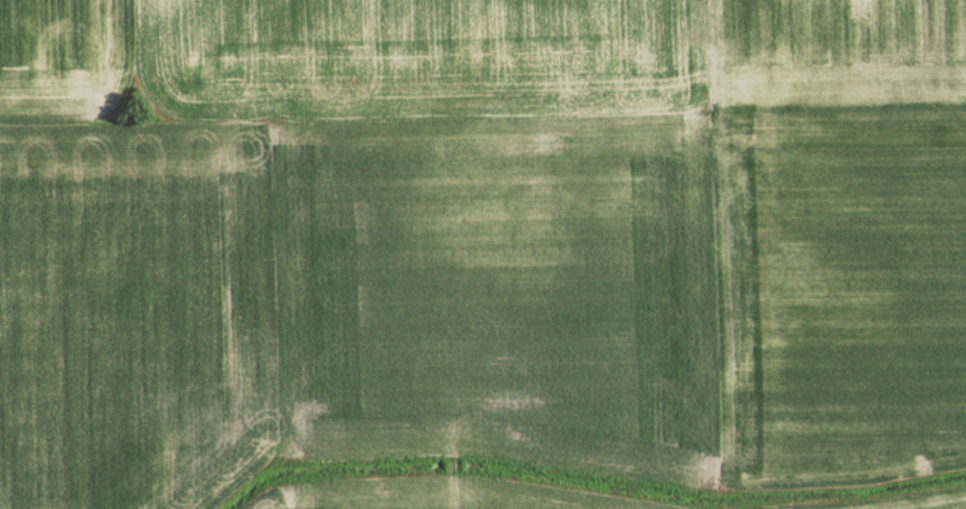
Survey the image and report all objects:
crop: (583, 214)
crop: (138, 310)
crop: (443, 501)
crop: (927, 506)

